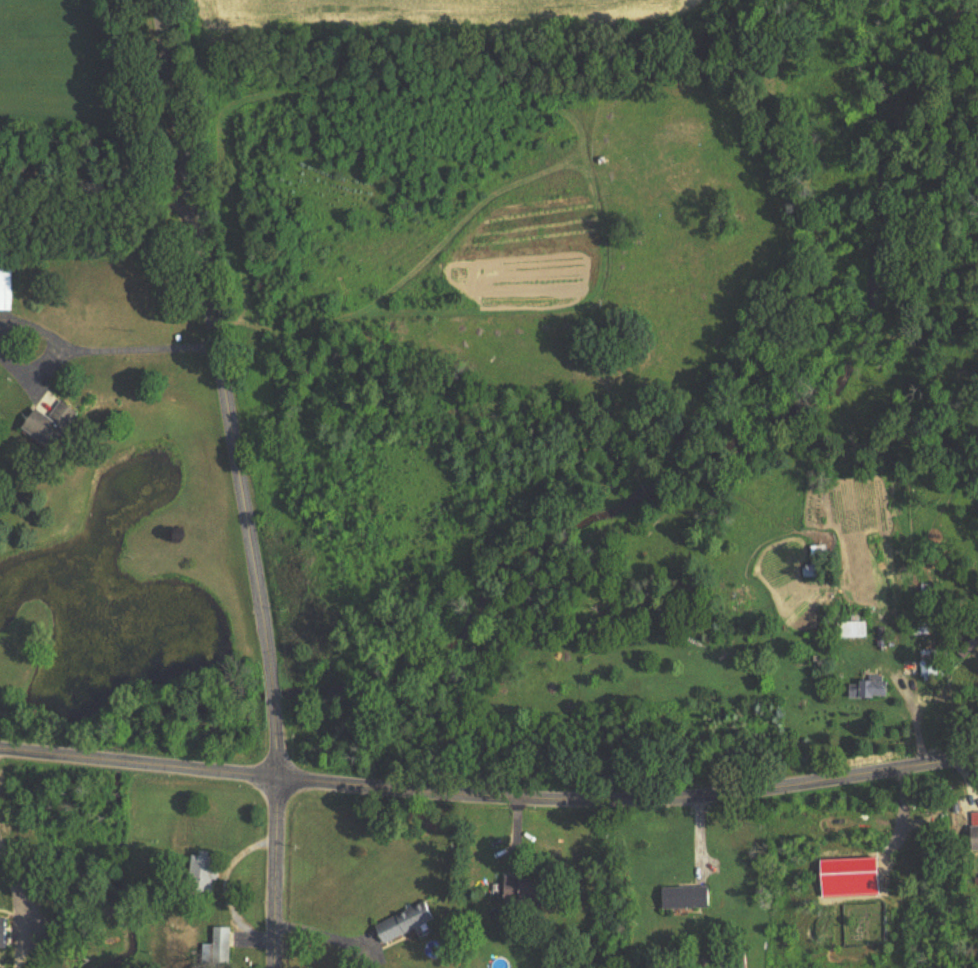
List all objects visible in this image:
road: (96, 161)
building: (7, 288)
road: (34, 324)
road: (143, 347)
road: (31, 364)
road: (227, 390)
building: (52, 424)
building: (820, 550)
building: (920, 627)
building: (852, 630)
building: (929, 664)
building: (871, 689)
road: (140, 768)
road: (630, 803)
building: (975, 837)
building: (205, 872)
road: (280, 875)
building: (525, 889)
building: (686, 898)
building: (408, 923)
building: (4, 932)
building: (218, 945)
building: (729, 963)

